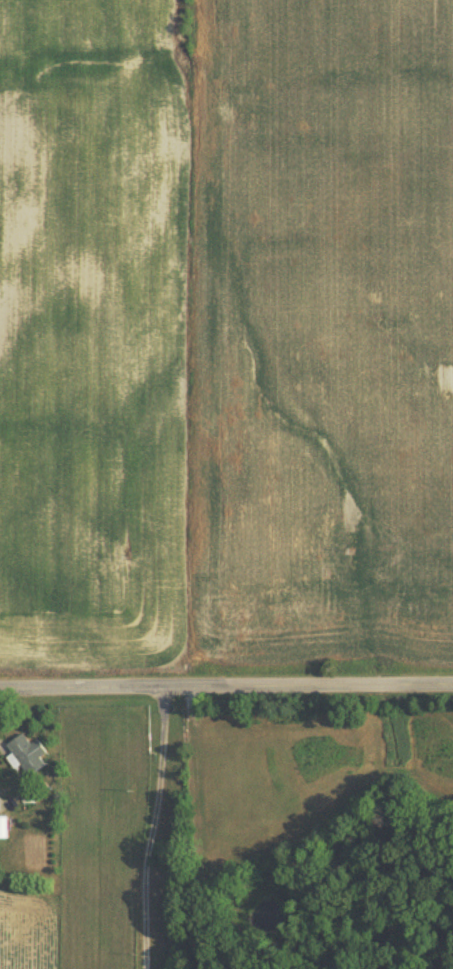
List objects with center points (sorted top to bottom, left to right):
road: (226, 684)
building: (25, 754)
building: (3, 825)

